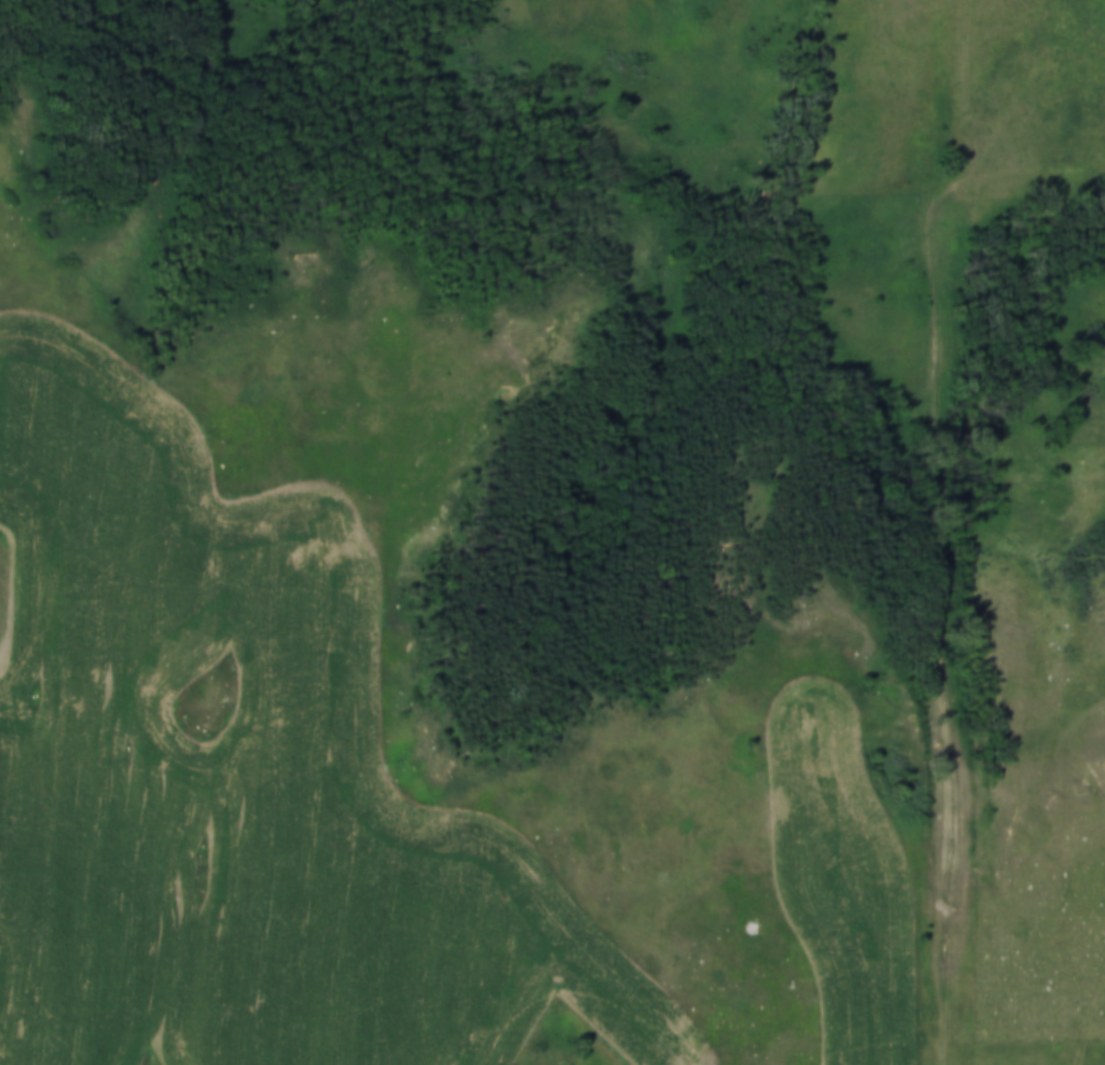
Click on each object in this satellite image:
road: (952, 598)

